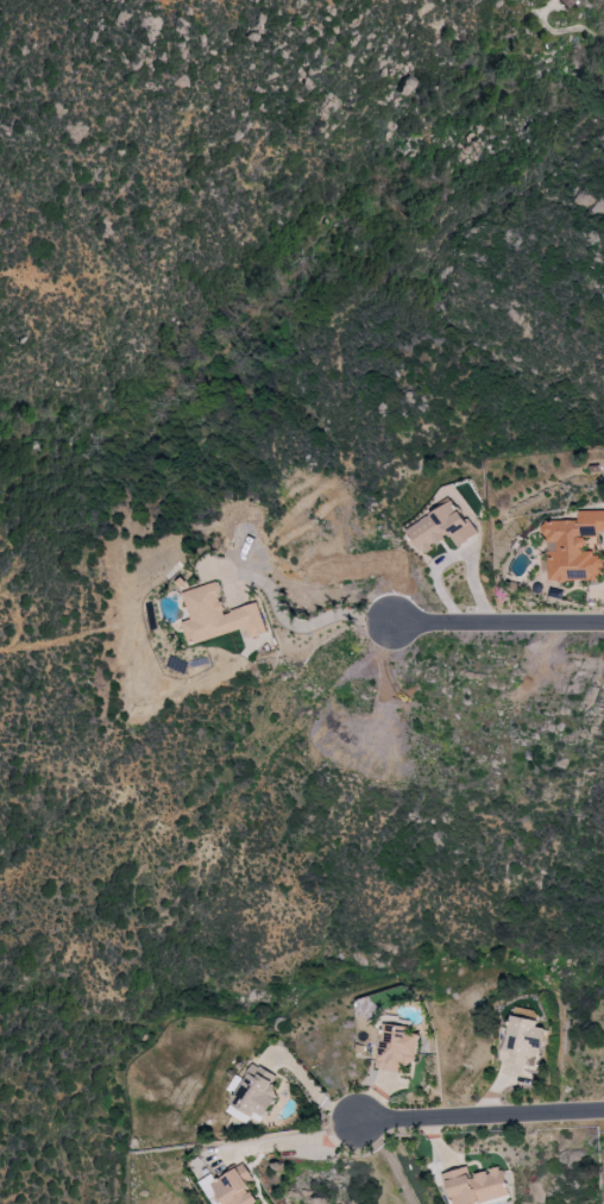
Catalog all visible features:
building: (558, 2)
building: (439, 528)
building: (573, 547)
building: (218, 616)
road: (290, 619)
road: (493, 619)
building: (524, 1014)
building: (520, 1040)
building: (395, 1047)
building: (250, 1095)
road: (474, 1118)
road: (281, 1141)
building: (473, 1186)
building: (233, 1187)

